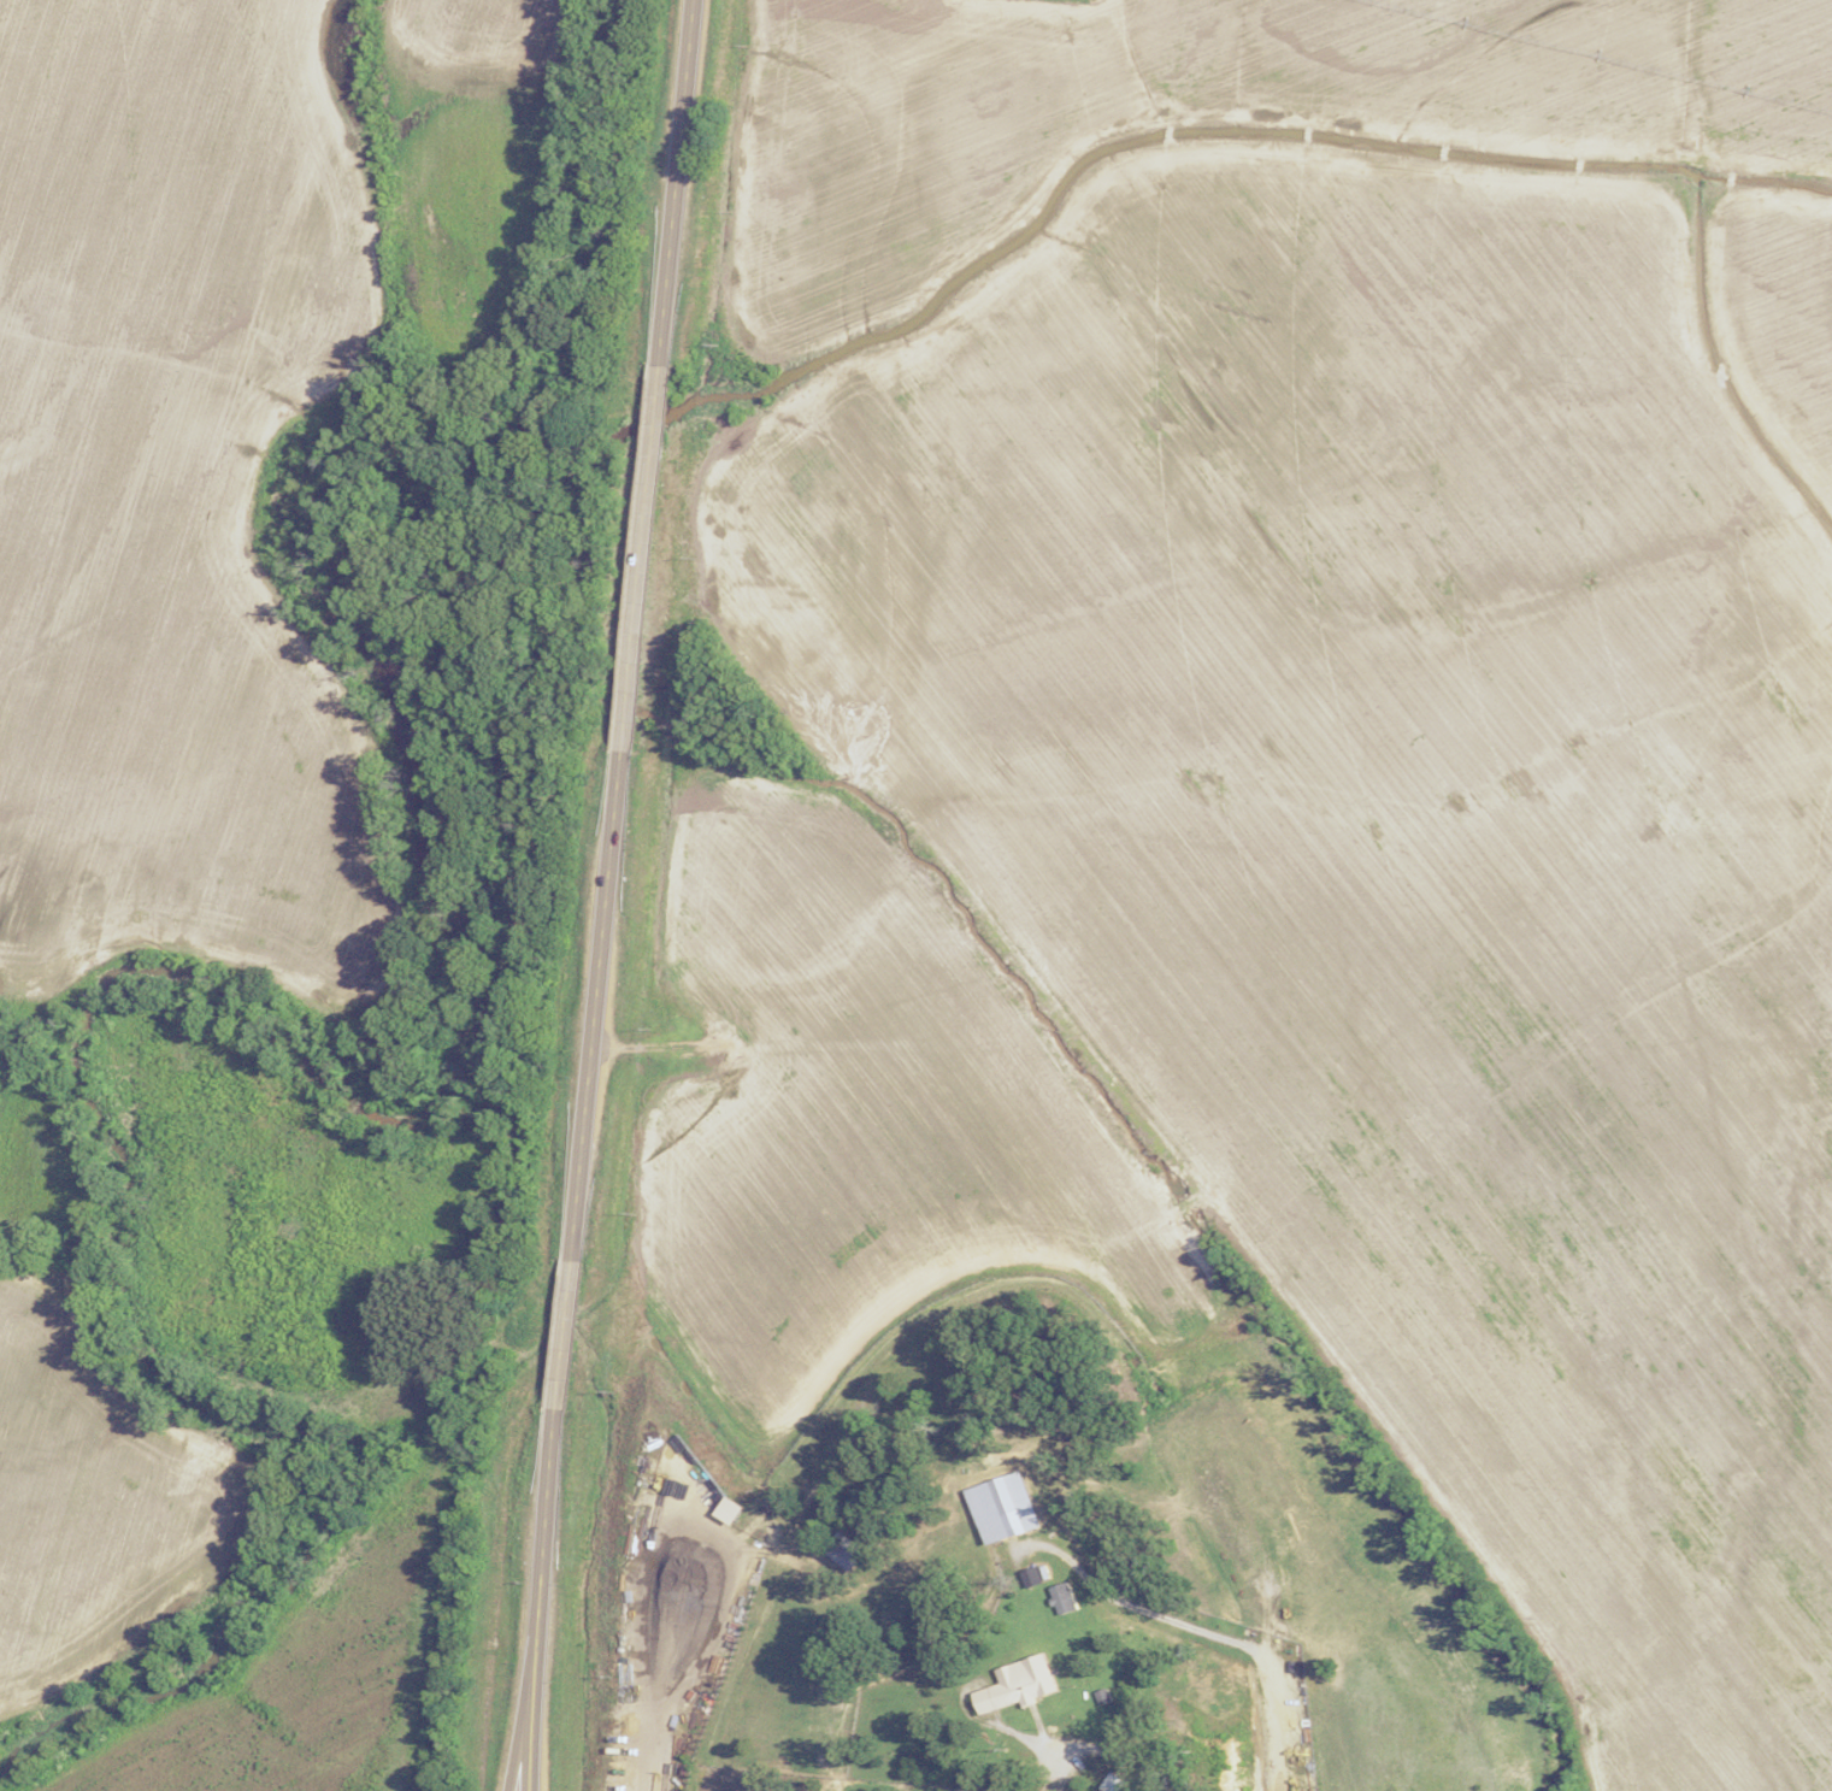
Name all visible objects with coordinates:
road: (673, 184)
road: (637, 560)
road: (596, 1006)
road: (564, 1336)
building: (1014, 1520)
road: (542, 1542)
building: (843, 1549)
building: (1064, 1596)
road: (1192, 1627)
road: (683, 1667)
building: (1014, 1690)
road: (520, 1732)
road: (532, 1732)
road: (1052, 1774)
building: (1112, 1783)

